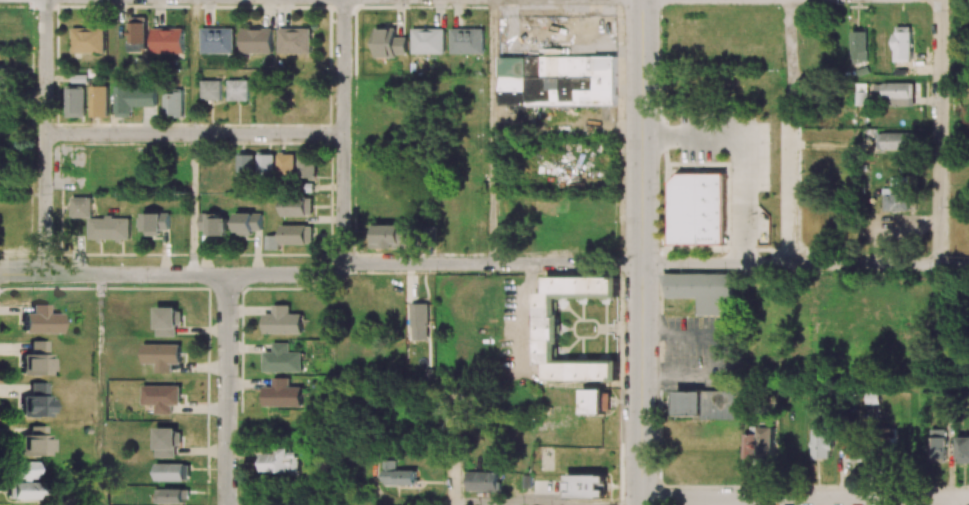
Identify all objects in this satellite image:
building: (137, 34)
building: (88, 40)
building: (167, 40)
building: (217, 40)
building: (256, 40)
building: (294, 40)
building: (427, 40)
building: (467, 40)
building: (389, 43)
building: (902, 43)
building: (858, 47)
road: (193, 67)
building: (3, 75)
building: (557, 80)
building: (210, 90)
building: (237, 90)
building: (893, 93)
building: (133, 99)
building: (99, 101)
building: (75, 102)
building: (173, 104)
road: (490, 132)
road: (791, 132)
road: (940, 132)
road: (344, 134)
road: (194, 135)
road: (44, 136)
building: (894, 140)
road: (744, 148)
building: (286, 163)
building: (246, 165)
building: (266, 165)
building: (307, 166)
street lamp: (53, 193)
building: (896, 202)
road: (193, 205)
building: (296, 206)
building: (698, 208)
building: (100, 221)
building: (247, 222)
building: (155, 223)
building: (214, 224)
building: (296, 234)
building: (387, 236)
building: (271, 242)
road: (642, 252)
road: (805, 265)
road: (342, 268)
road: (22, 272)
street lamp: (147, 283)
building: (703, 291)
road: (521, 315)
building: (41, 320)
building: (167, 321)
building: (282, 321)
building: (418, 321)
building: (547, 329)
building: (162, 356)
building: (36, 359)
building: (282, 359)
road: (805, 383)
road: (99, 389)
road: (226, 390)
building: (282, 393)
building: (161, 397)
building: (36, 401)
building: (711, 404)
building: (950, 406)
building: (35, 442)
building: (166, 442)
building: (766, 442)
building: (821, 443)
building: (937, 445)
building: (750, 446)
building: (855, 447)
building: (963, 450)
road: (451, 458)
building: (281, 461)
building: (22, 470)
building: (171, 472)
building: (396, 475)
building: (482, 481)
building: (585, 486)
building: (22, 490)
building: (171, 496)
road: (805, 498)
road: (413, 501)
road: (547, 502)
road: (373, 503)

